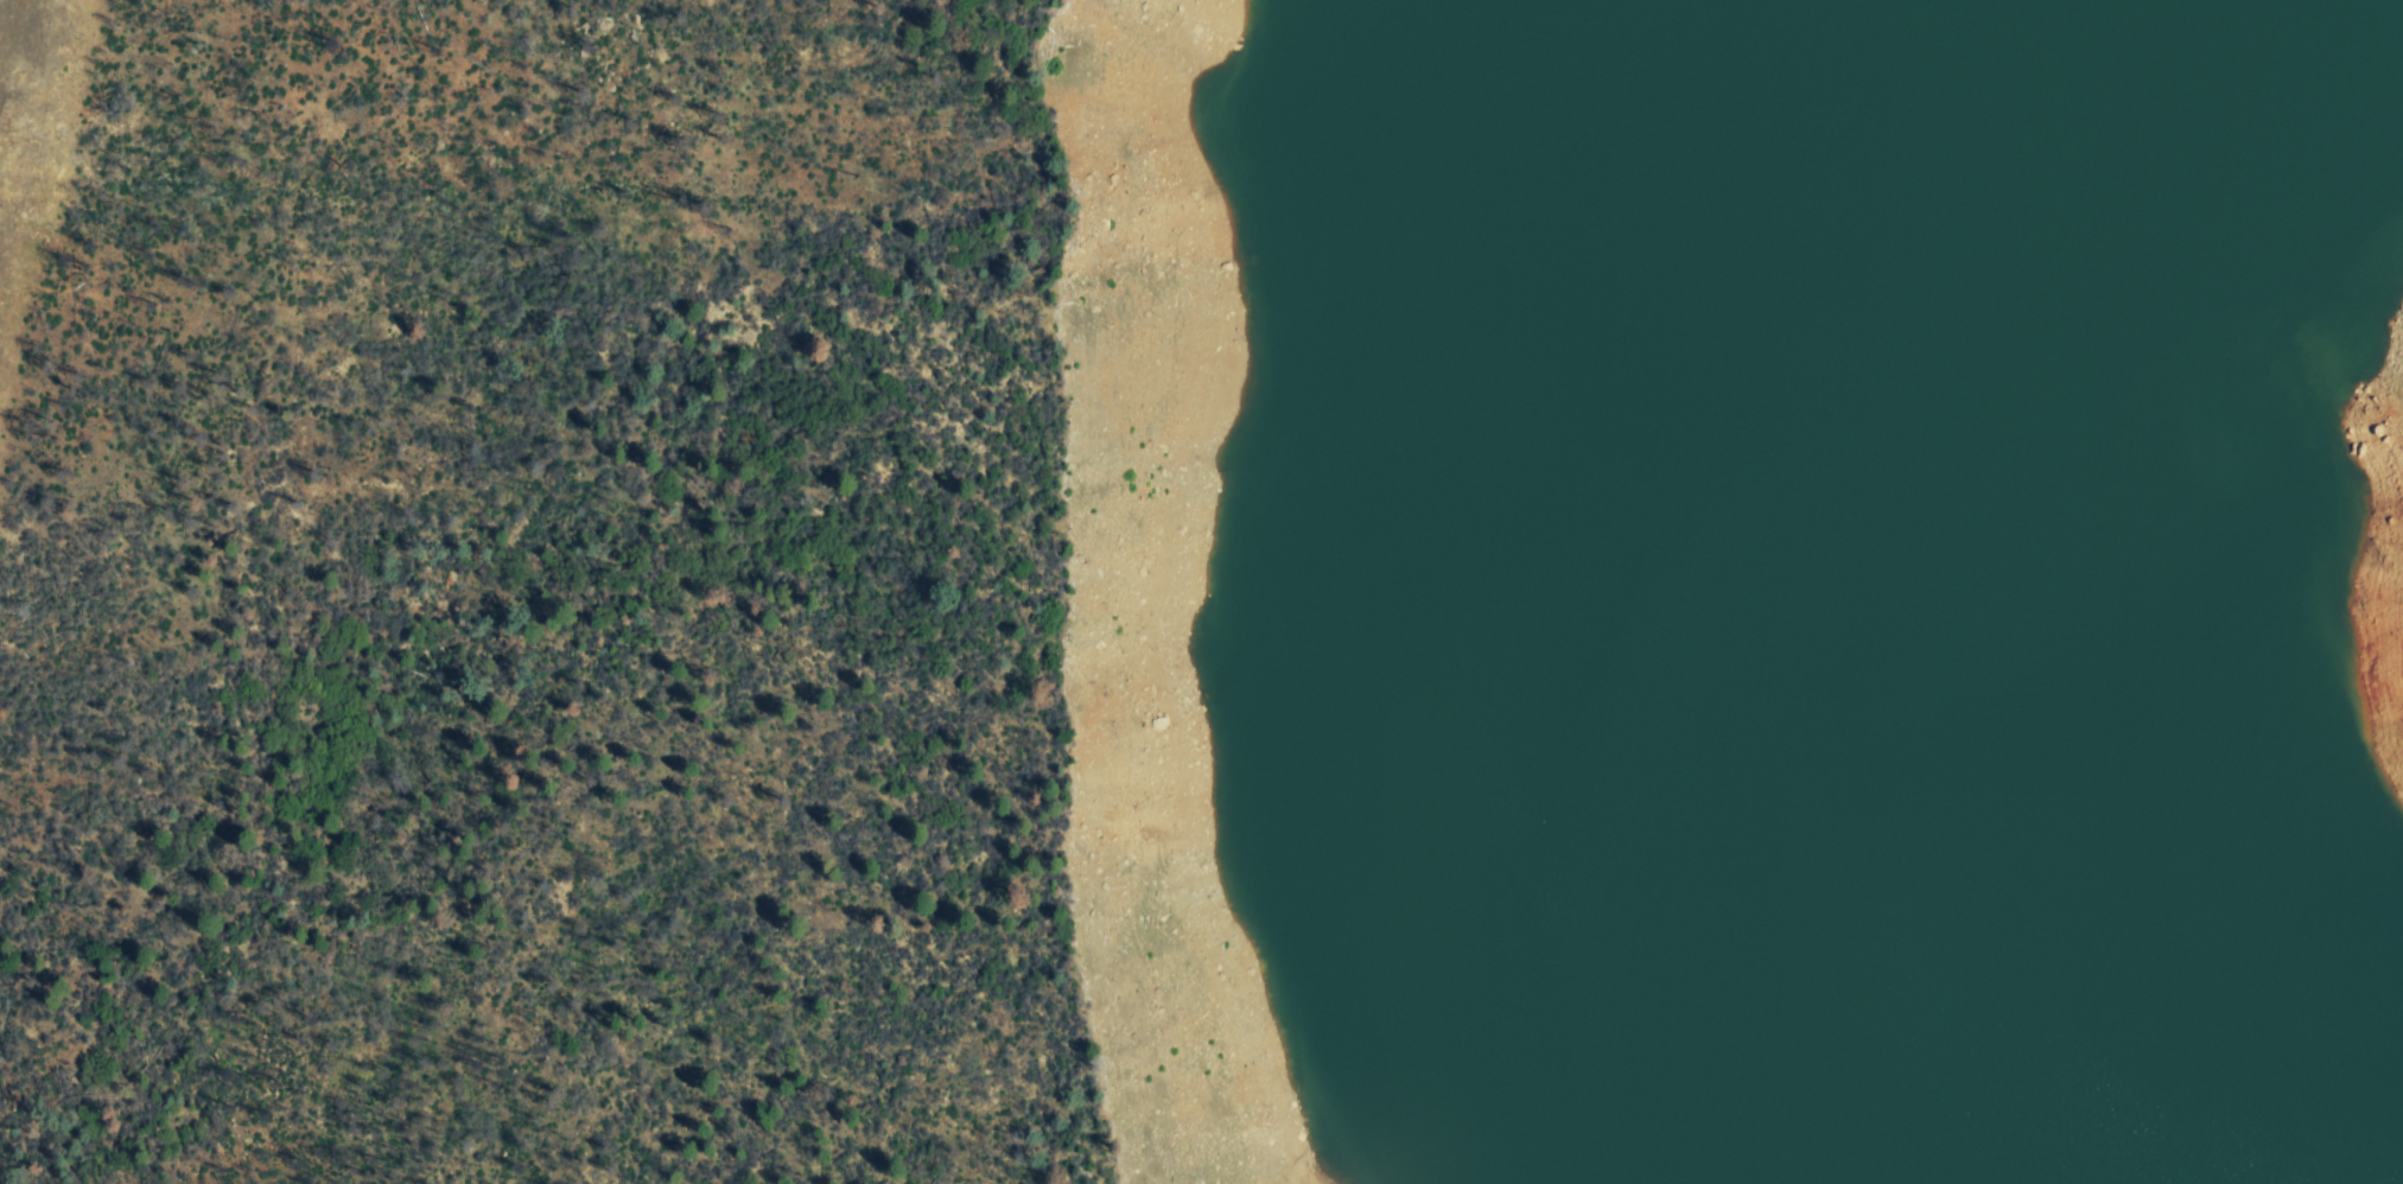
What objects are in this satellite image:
river: (2207, 578)

